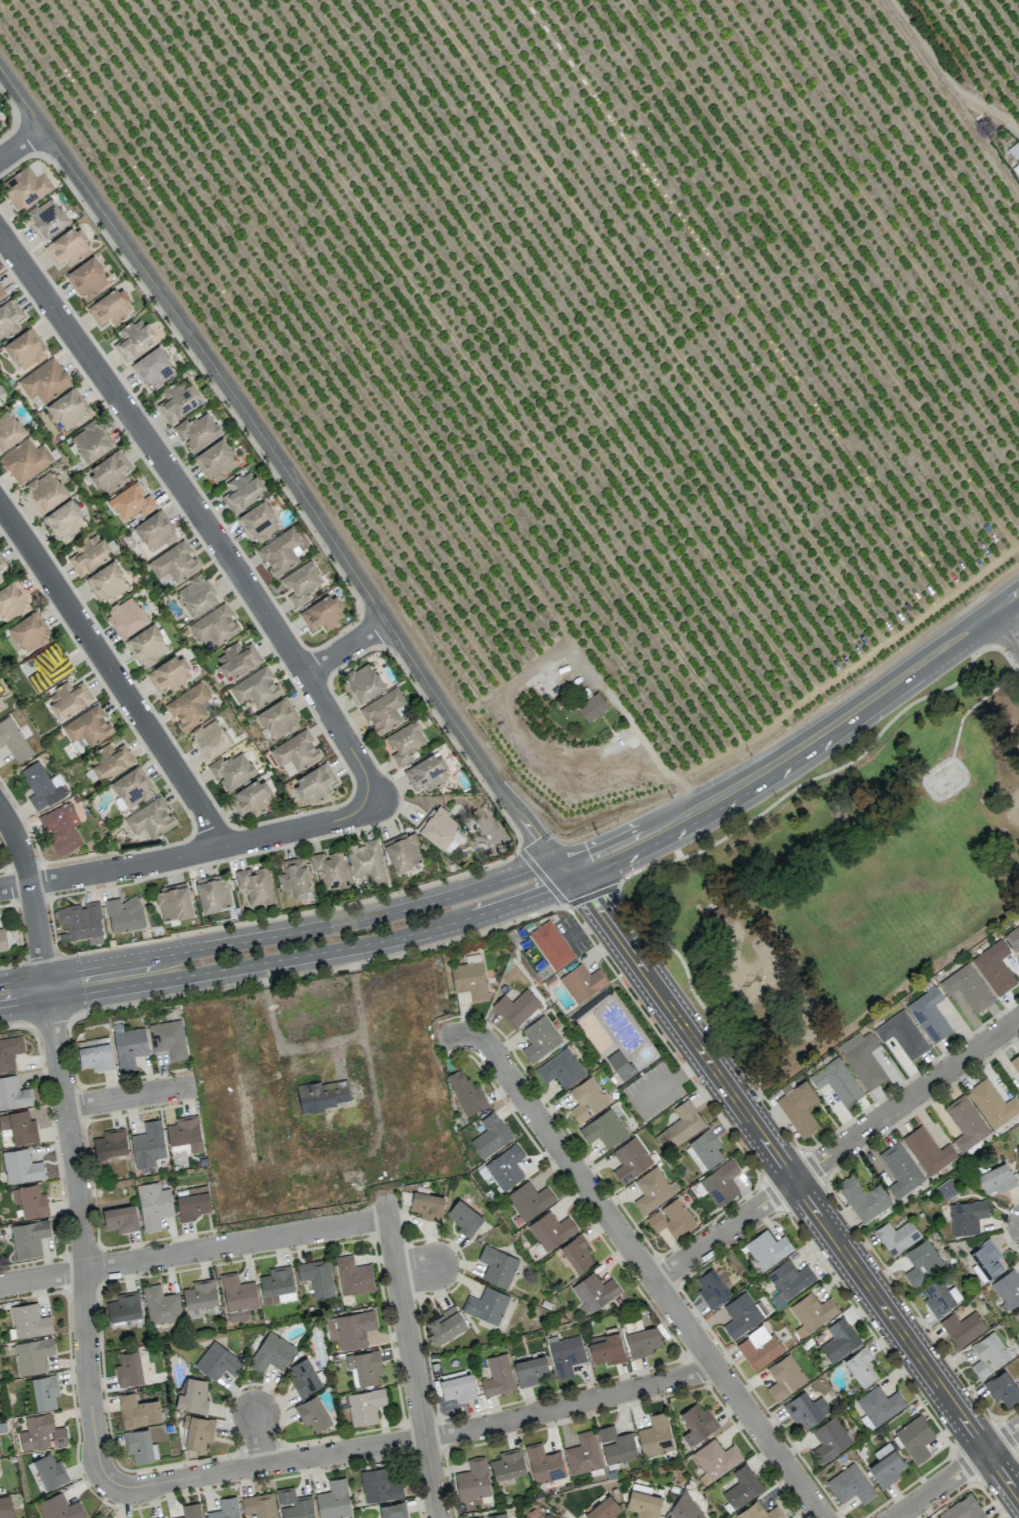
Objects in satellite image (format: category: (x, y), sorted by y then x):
road: (944, 76)
building: (0, 129)
road: (22, 146)
building: (1017, 166)
building: (26, 187)
building: (48, 218)
building: (67, 247)
building: (87, 279)
building: (0, 298)
building: (110, 308)
building: (9, 318)
building: (133, 339)
building: (24, 350)
building: (153, 369)
building: (44, 381)
building: (179, 401)
building: (0, 403)
building: (67, 410)
building: (9, 430)
building: (197, 431)
building: (90, 442)
building: (25, 460)
building: (216, 461)
road: (283, 467)
building: (108, 472)
building: (46, 491)
building: (242, 491)
building: (131, 502)
road: (200, 512)
building: (65, 521)
building: (258, 521)
building: (154, 532)
building: (279, 551)
building: (88, 554)
building: (174, 562)
building: (2, 563)
building: (0, 577)
building: (107, 582)
building: (300, 583)
building: (196, 596)
road: (1006, 601)
building: (11, 602)
building: (323, 613)
building: (126, 617)
building: (215, 625)
road: (1006, 629)
building: (28, 633)
building: (148, 645)
road: (347, 650)
building: (236, 659)
building: (48, 668)
road: (115, 673)
building: (170, 674)
building: (364, 682)
building: (256, 687)
building: (68, 698)
road: (974, 704)
building: (188, 707)
building: (592, 707)
building: (383, 710)
building: (277, 719)
building: (88, 726)
building: (13, 740)
building: (211, 740)
building: (404, 743)
building: (295, 752)
road: (787, 753)
road: (658, 760)
building: (111, 761)
building: (231, 770)
building: (427, 772)
park: (944, 778)
building: (314, 784)
building: (40, 787)
building: (129, 788)
building: (252, 798)
building: (150, 819)
building: (438, 827)
building: (61, 828)
road: (726, 835)
traffic signals: (537, 838)
building: (403, 851)
road: (192, 855)
building: (367, 861)
traffic signals: (589, 862)
building: (329, 869)
park: (847, 878)
building: (255, 885)
road: (30, 889)
traffic signals: (549, 890)
building: (214, 893)
traffic signals: (592, 899)
building: (173, 902)
building: (716, 913)
building: (124, 914)
building: (82, 921)
building: (1017, 929)
road: (285, 934)
building: (1012, 938)
building: (2, 940)
building: (553, 946)
road: (290, 958)
building: (994, 967)
building: (469, 979)
building: (582, 982)
road: (45, 987)
building: (967, 987)
building: (515, 1008)
building: (929, 1014)
building: (902, 1034)
building: (168, 1039)
building: (539, 1039)
building: (129, 1046)
building: (9, 1052)
building: (95, 1054)
building: (862, 1059)
building: (1016, 1059)
road: (314, 1063)
building: (620, 1065)
building: (560, 1069)
building: (837, 1081)
building: (13, 1093)
building: (466, 1093)
building: (1018, 1093)
building: (323, 1096)
road: (129, 1097)
building: (586, 1100)
building: (992, 1103)
building: (799, 1108)
building: (966, 1124)
building: (680, 1126)
building: (18, 1127)
building: (603, 1129)
building: (184, 1134)
road: (373, 1135)
building: (490, 1135)
building: (110, 1143)
building: (147, 1144)
building: (1018, 1149)
building: (927, 1150)
building: (703, 1151)
road: (836, 1151)
building: (630, 1159)
building: (20, 1167)
building: (505, 1167)
building: (900, 1169)
building: (996, 1179)
building: (720, 1182)
road: (794, 1182)
building: (947, 1189)
building: (651, 1190)
building: (863, 1198)
building: (529, 1200)
building: (29, 1201)
building: (193, 1203)
building: (153, 1205)
building: (427, 1206)
building: (967, 1216)
building: (120, 1218)
building: (464, 1218)
building: (671, 1218)
building: (550, 1230)
building: (897, 1236)
building: (28, 1238)
road: (84, 1243)
building: (767, 1249)
road: (193, 1251)
building: (577, 1254)
road: (638, 1260)
building: (985, 1261)
building: (921, 1262)
building: (497, 1266)
road: (416, 1270)
building: (353, 1276)
building: (317, 1277)
building: (788, 1280)
building: (711, 1288)
building: (1006, 1290)
building: (594, 1292)
building: (200, 1294)
building: (238, 1296)
building: (939, 1297)
building: (161, 1305)
building: (486, 1305)
building: (123, 1307)
building: (811, 1313)
building: (1017, 1314)
building: (741, 1315)
building: (29, 1321)
building: (444, 1326)
building: (962, 1327)
building: (350, 1329)
building: (839, 1340)
building: (642, 1341)
building: (758, 1347)
building: (606, 1350)
building: (271, 1353)
building: (32, 1355)
building: (988, 1355)
building: (565, 1356)
building: (217, 1362)
building: (861, 1366)
building: (363, 1367)
road: (413, 1367)
building: (128, 1369)
building: (530, 1371)
building: (498, 1375)
building: (303, 1377)
building: (784, 1377)
building: (458, 1386)
building: (1002, 1389)
building: (44, 1391)
building: (193, 1396)
building: (365, 1406)
building: (806, 1410)
building: (138, 1411)
building: (312, 1413)
building: (697, 1424)
building: (198, 1432)
building: (41, 1433)
building: (655, 1435)
building: (915, 1438)
road: (418, 1439)
building: (829, 1439)
road: (260, 1440)
building: (616, 1445)
building: (140, 1446)
building: (583, 1453)
building: (716, 1459)
building: (543, 1463)
building: (508, 1464)
building: (886, 1465)
building: (49, 1471)
road: (956, 1472)
building: (472, 1480)
building: (850, 1484)
building: (379, 1486)
building: (742, 1487)
building: (333, 1500)
building: (294, 1504)
building: (643, 1504)
building: (259, 1505)
building: (5, 1507)
building: (60, 1508)
building: (225, 1509)
building: (603, 1509)
building: (963, 1509)
building: (391, 1510)
building: (682, 1510)
building: (190, 1511)
building: (759, 1512)
building: (493, 1516)

